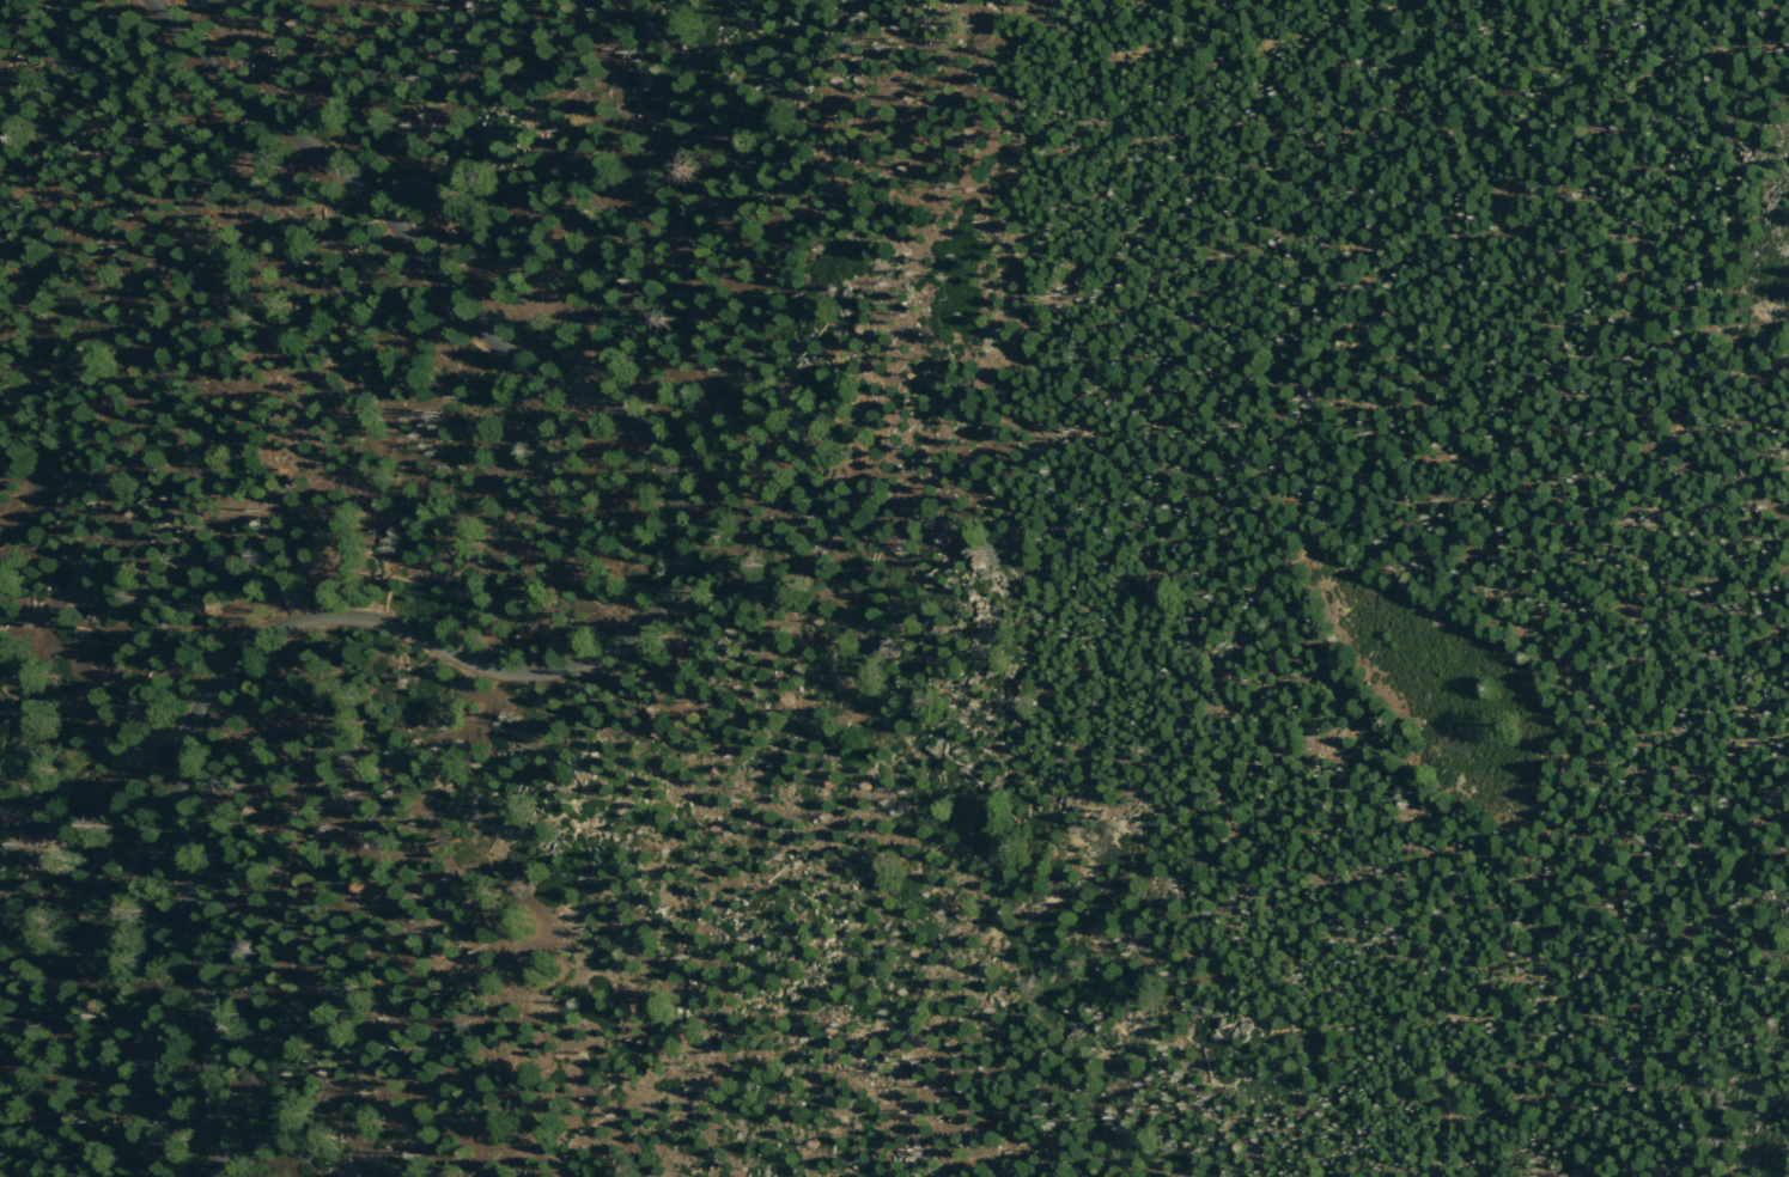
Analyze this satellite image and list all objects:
road: (448, 295)
road: (1504, 569)
road: (598, 653)

